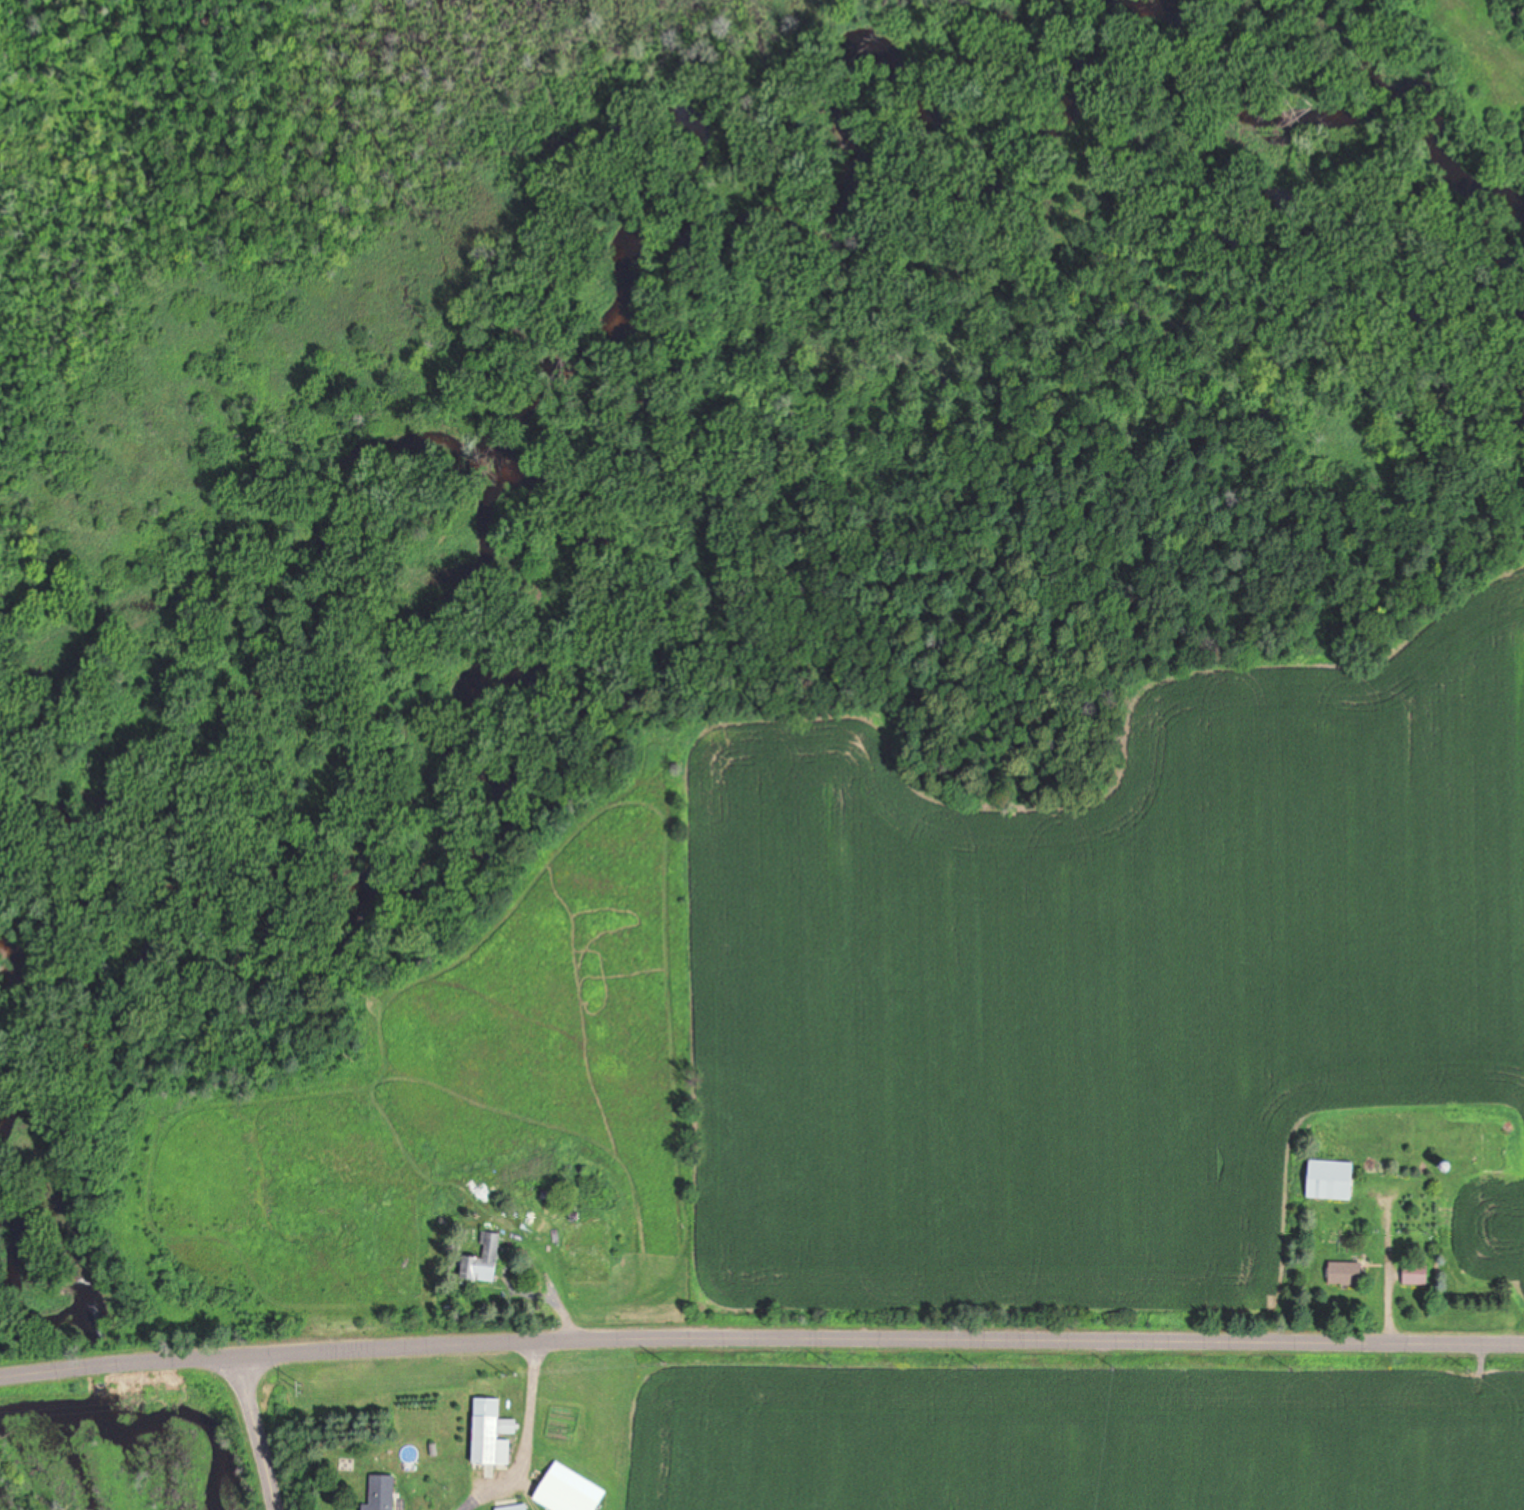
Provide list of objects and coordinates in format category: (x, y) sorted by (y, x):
building: (1336, 1177)
building: (488, 1257)
building: (1350, 1271)
building: (1419, 1272)
road: (761, 1330)
road: (264, 1424)
building: (495, 1429)
building: (385, 1491)
building: (570, 1495)
building: (518, 1506)

